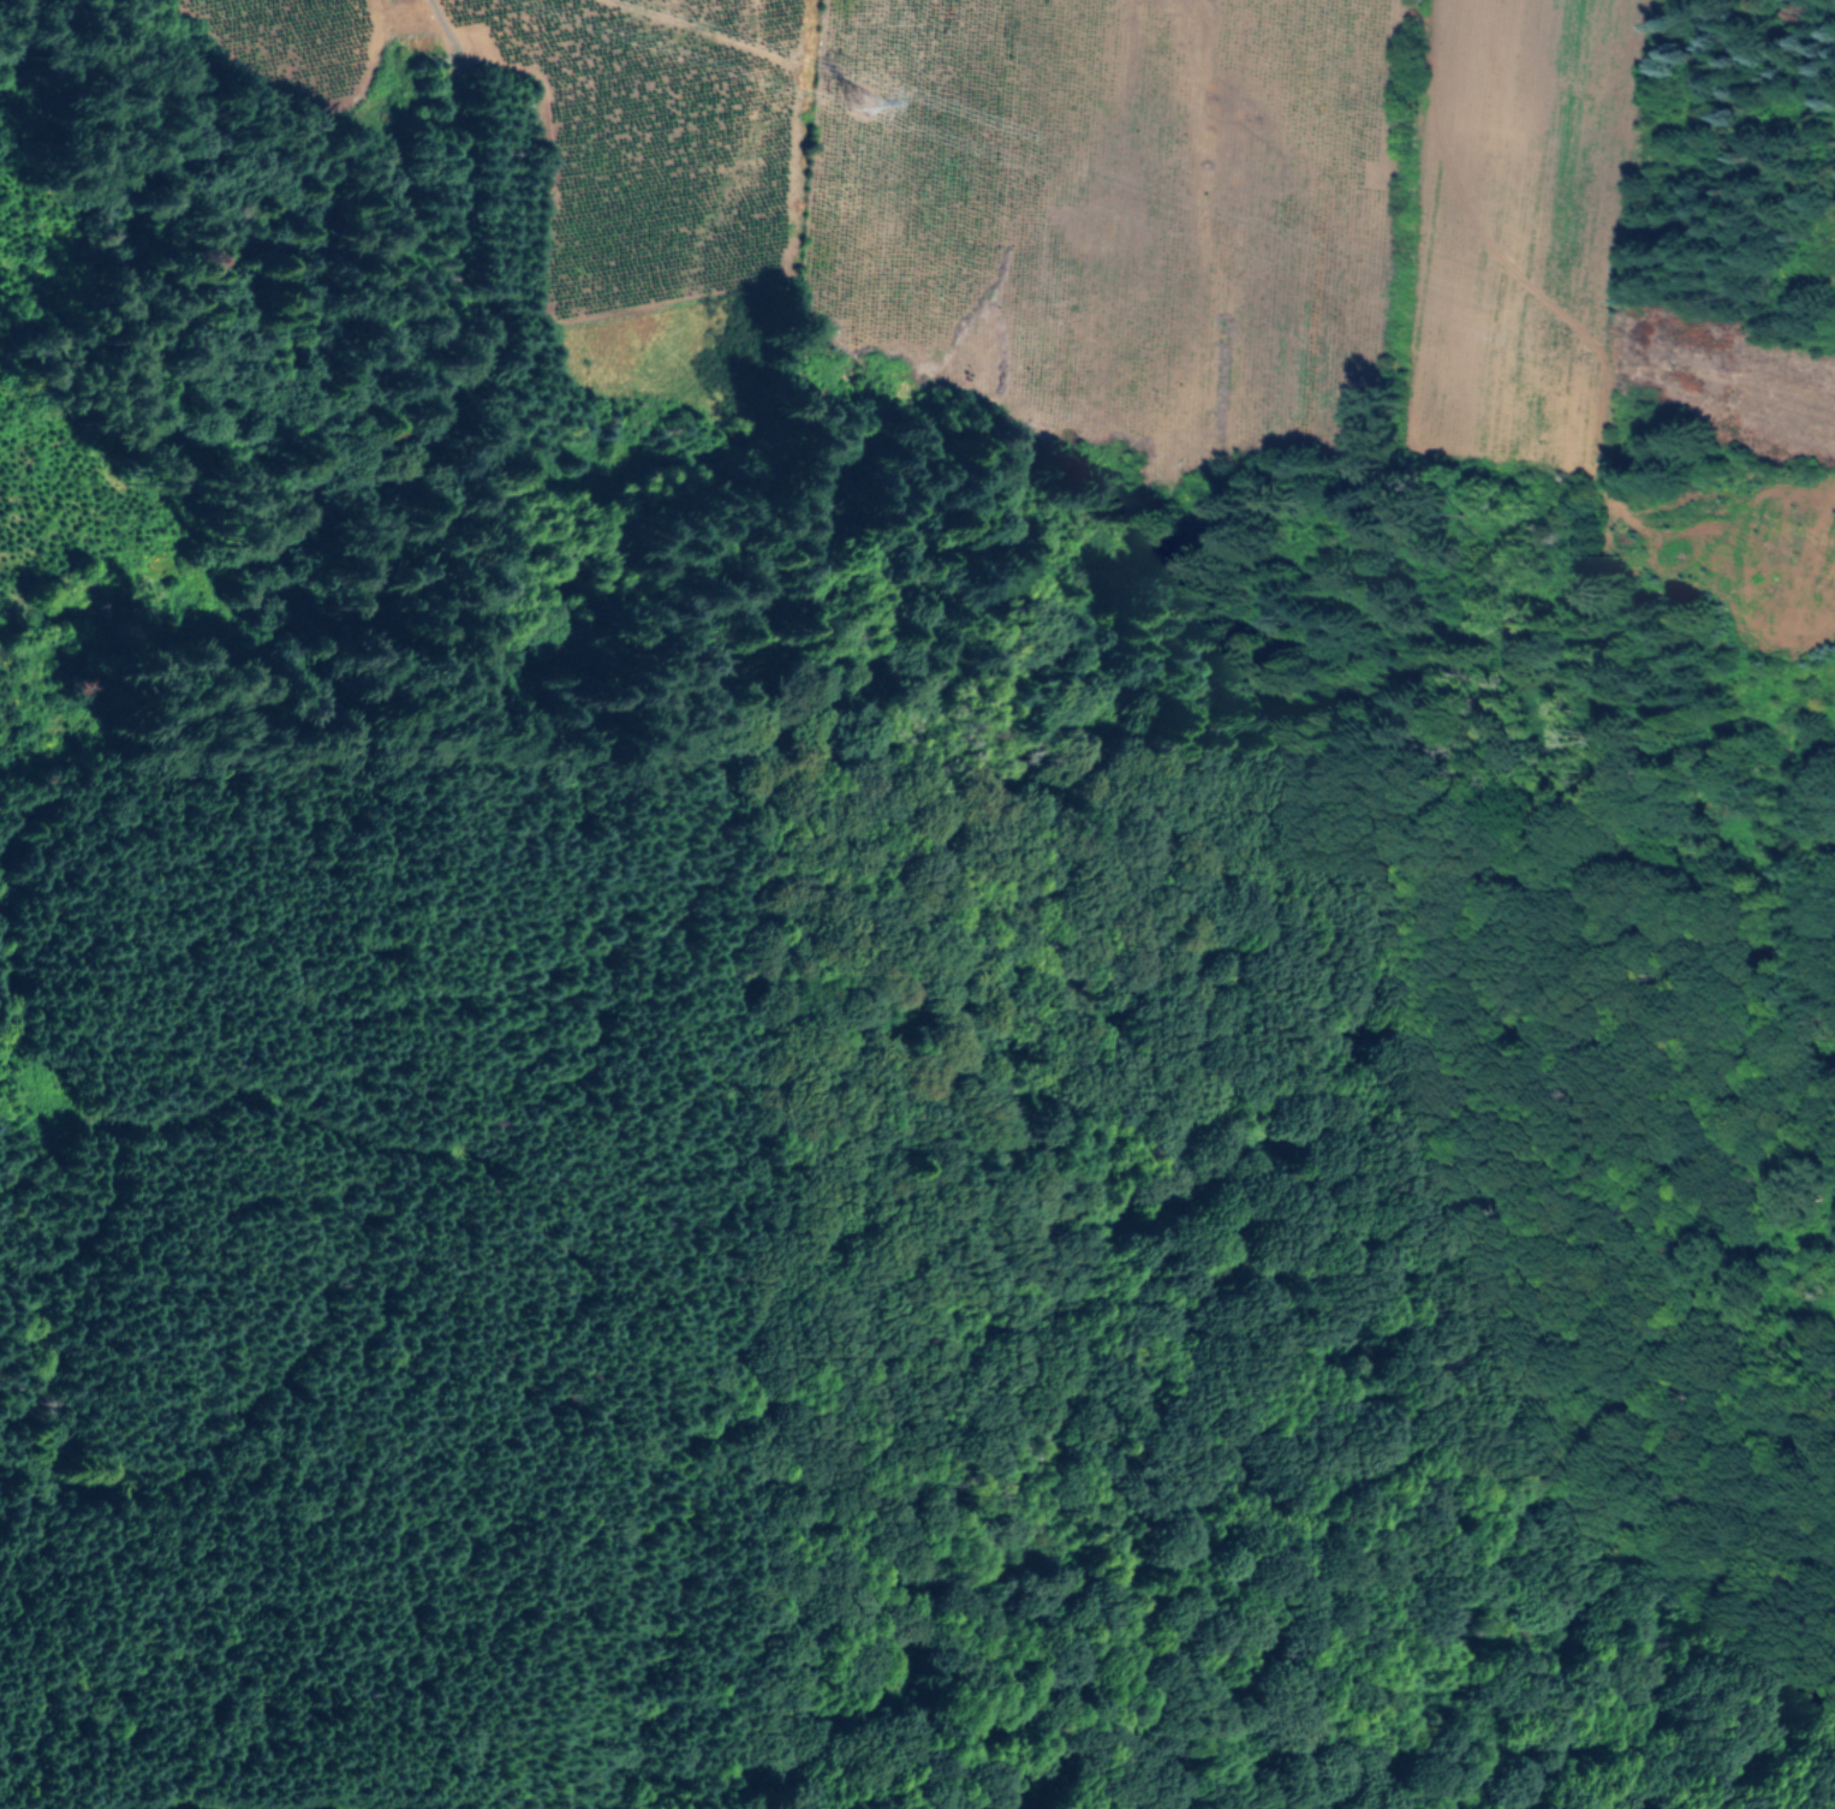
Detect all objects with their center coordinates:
crop: (1299, 94)
power tower: (868, 109)
road: (457, 141)
road: (16, 269)
road: (332, 1126)
road: (114, 1192)

